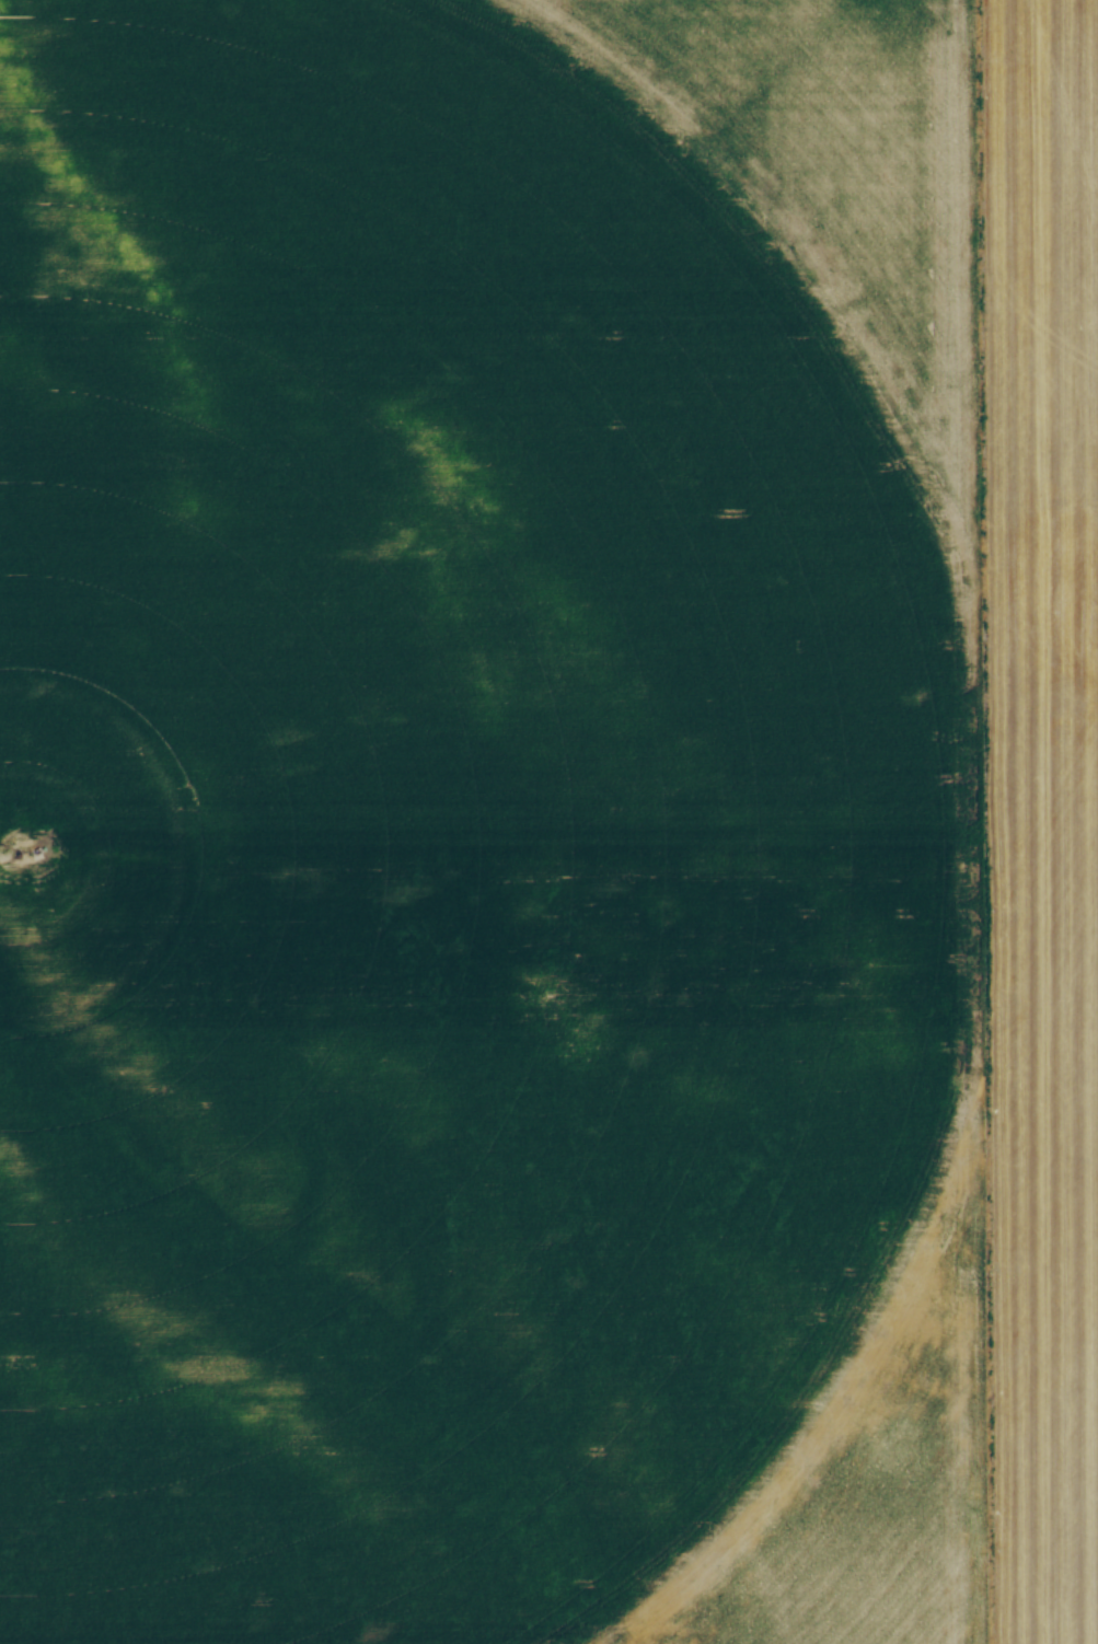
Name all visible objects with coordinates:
crop: (548, 822)

